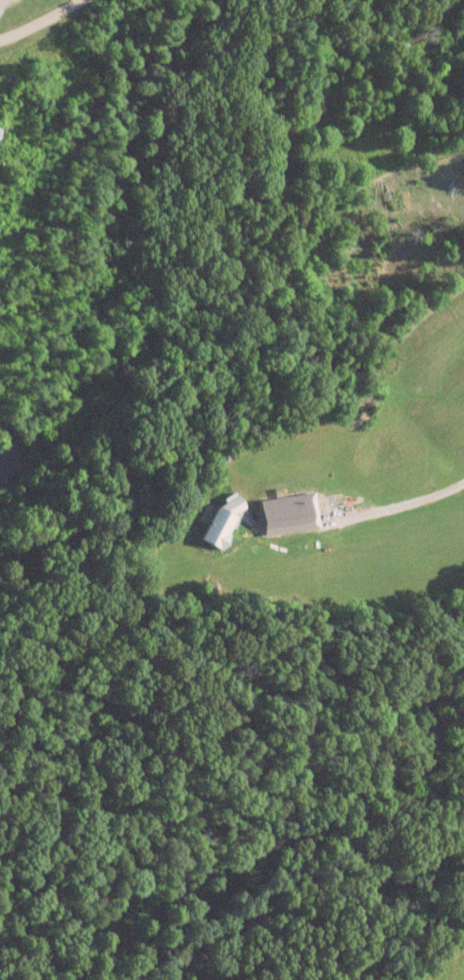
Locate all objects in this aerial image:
road: (40, 21)
building: (1, 134)
road: (412, 501)
building: (225, 521)

